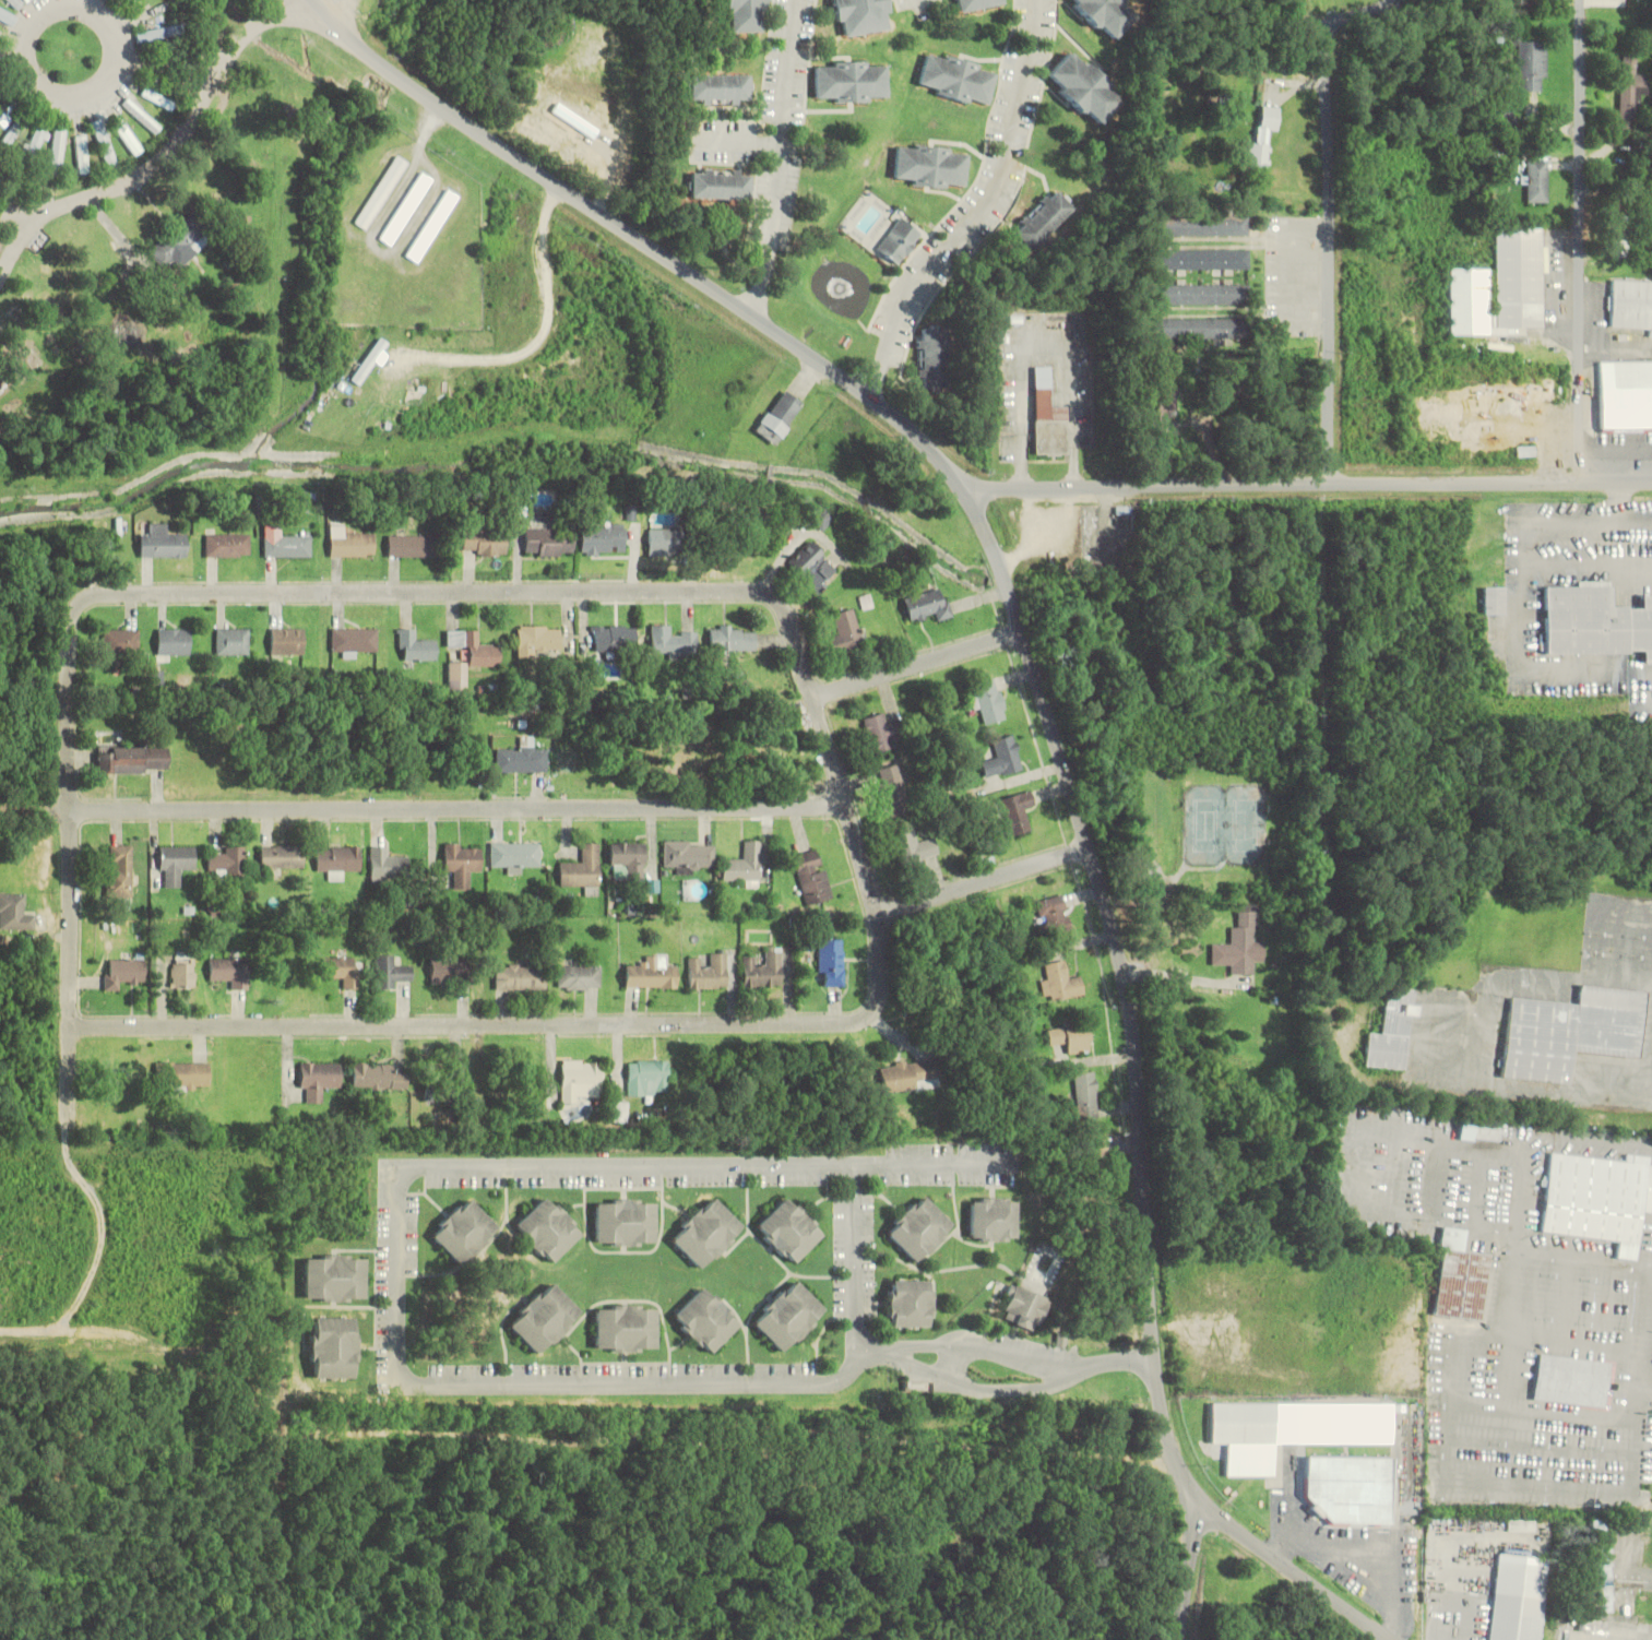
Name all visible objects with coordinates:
building: (134, 1)
building: (16, 2)
building: (975, 4)
road: (345, 10)
building: (1106, 14)
building: (746, 15)
building: (863, 16)
building: (8, 17)
road: (1314, 26)
building: (0, 29)
road: (117, 29)
building: (161, 33)
building: (1532, 67)
road: (231, 69)
building: (956, 79)
building: (852, 82)
building: (1082, 87)
building: (720, 88)
building: (1629, 88)
building: (158, 98)
building: (1, 116)
building: (142, 116)
building: (127, 134)
building: (1262, 139)
building: (37, 141)
building: (1650, 151)
building: (57, 153)
building: (83, 155)
road: (792, 161)
building: (930, 166)
building: (1536, 181)
building: (720, 185)
road: (136, 186)
building: (380, 192)
road: (994, 213)
building: (1043, 218)
building: (1198, 225)
road: (1340, 233)
building: (899, 240)
road: (1591, 240)
building: (1620, 240)
building: (177, 243)
road: (652, 247)
road: (23, 260)
building: (1200, 260)
building: (1499, 287)
building: (1198, 295)
building: (1631, 305)
building: (1198, 329)
building: (932, 358)
building: (368, 361)
building: (1544, 390)
building: (1625, 395)
building: (1167, 408)
building: (1048, 416)
building: (779, 417)
road: (1314, 491)
building: (822, 518)
building: (737, 537)
building: (602, 539)
building: (662, 542)
building: (161, 543)
building: (546, 543)
building: (349, 544)
building: (482, 544)
building: (226, 545)
building: (286, 545)
building: (409, 546)
building: (813, 567)
road: (1005, 568)
building: (1493, 601)
building: (927, 605)
building: (1595, 622)
building: (846, 631)
building: (608, 639)
building: (732, 639)
building: (538, 640)
building: (174, 641)
building: (233, 641)
building: (286, 641)
building: (353, 641)
building: (674, 642)
building: (121, 643)
building: (414, 646)
building: (473, 647)
road: (922, 670)
building: (455, 676)
building: (988, 701)
building: (877, 733)
building: (423, 745)
road: (1054, 747)
building: (1001, 758)
building: (132, 759)
building: (521, 760)
building: (892, 789)
road: (460, 809)
building: (1018, 811)
building: (915, 848)
road: (868, 851)
building: (514, 855)
building: (689, 855)
building: (282, 856)
building: (337, 860)
building: (461, 861)
building: (628, 861)
building: (230, 863)
building: (176, 864)
building: (746, 864)
building: (387, 866)
building: (584, 870)
building: (119, 871)
building: (812, 877)
road: (989, 886)
building: (13, 913)
building: (1053, 915)
building: (1239, 944)
building: (831, 962)
building: (341, 970)
building: (765, 970)
building: (230, 971)
building: (709, 971)
building: (123, 972)
building: (451, 972)
building: (183, 973)
building: (391, 973)
building: (651, 973)
building: (520, 977)
building: (578, 977)
building: (1061, 982)
building: (1392, 1030)
building: (1570, 1032)
building: (1071, 1036)
building: (183, 1074)
building: (910, 1075)
building: (378, 1077)
building: (647, 1078)
building: (319, 1079)
building: (582, 1080)
building: (444, 1083)
building: (1086, 1095)
building: (497, 1098)
building: (620, 1110)
building: (1481, 1130)
building: (1597, 1198)
building: (993, 1219)
building: (626, 1222)
building: (918, 1228)
building: (547, 1229)
building: (788, 1229)
building: (463, 1231)
building: (706, 1233)
building: (335, 1277)
building: (1460, 1279)
road: (1153, 1295)
building: (910, 1303)
building: (1025, 1308)
building: (787, 1316)
building: (544, 1318)
building: (705, 1320)
building: (626, 1328)
building: (333, 1347)
building: (1574, 1380)
building: (1244, 1423)
building: (1348, 1489)
building: (1601, 1565)
road: (1187, 1568)
building: (1518, 1597)

